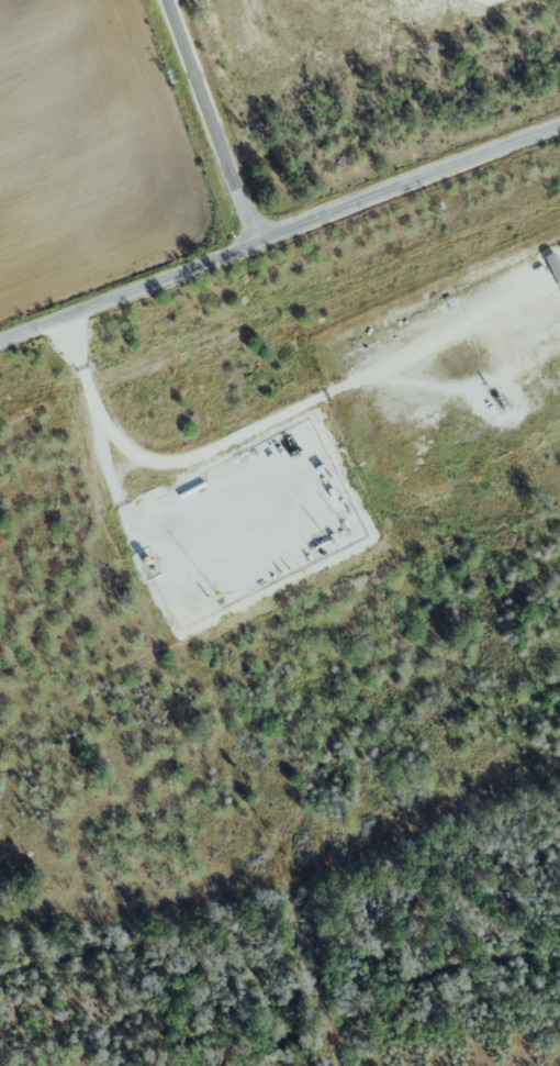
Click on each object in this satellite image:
road: (210, 121)
road: (279, 231)
building: (553, 265)
petroleum well: (500, 400)
road: (304, 403)
road: (98, 425)

